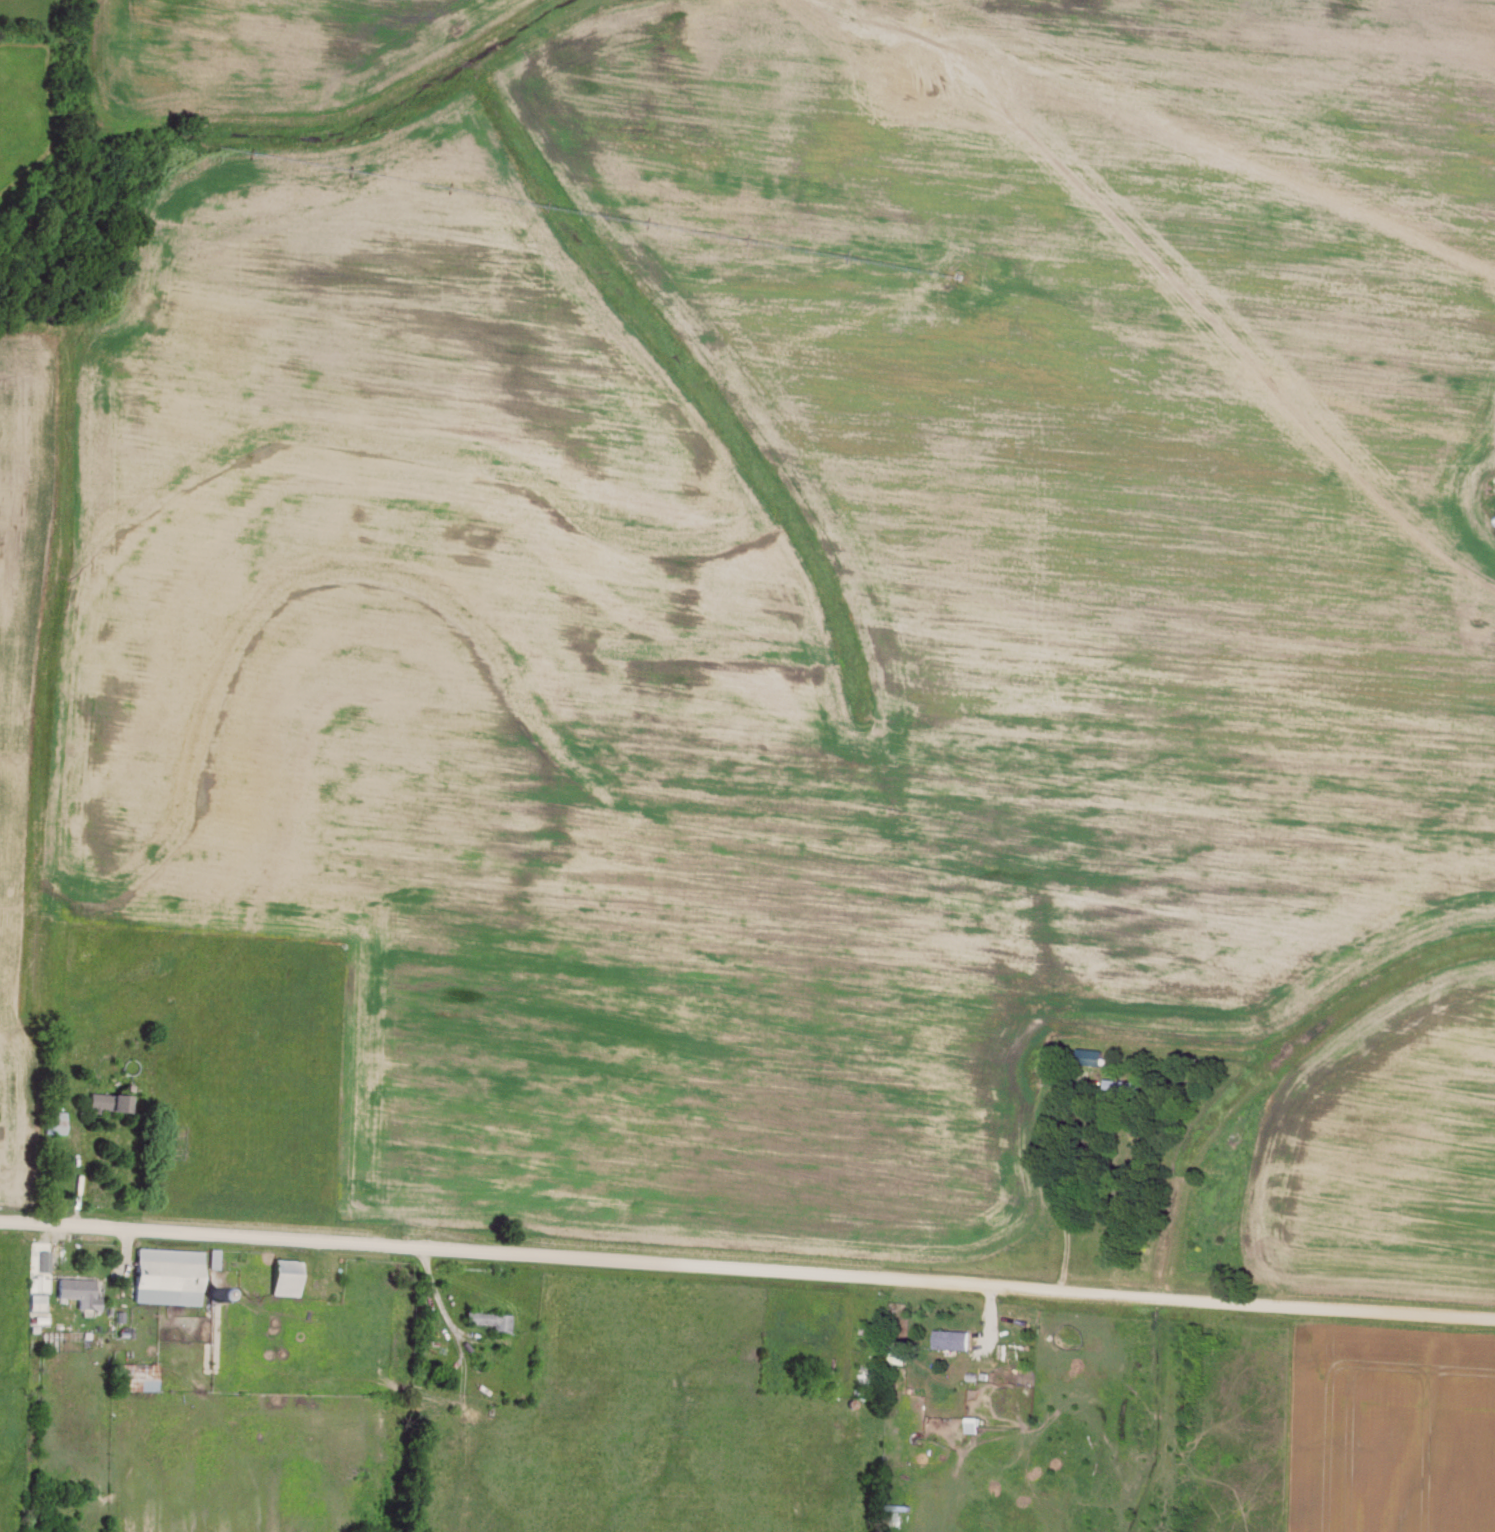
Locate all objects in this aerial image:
building: (1093, 1055)
building: (107, 1099)
road: (77, 1166)
building: (212, 1256)
road: (747, 1266)
building: (166, 1274)
building: (284, 1275)
building: (38, 1281)
building: (77, 1289)
road: (214, 1295)
building: (489, 1318)
building: (953, 1337)
building: (139, 1375)

